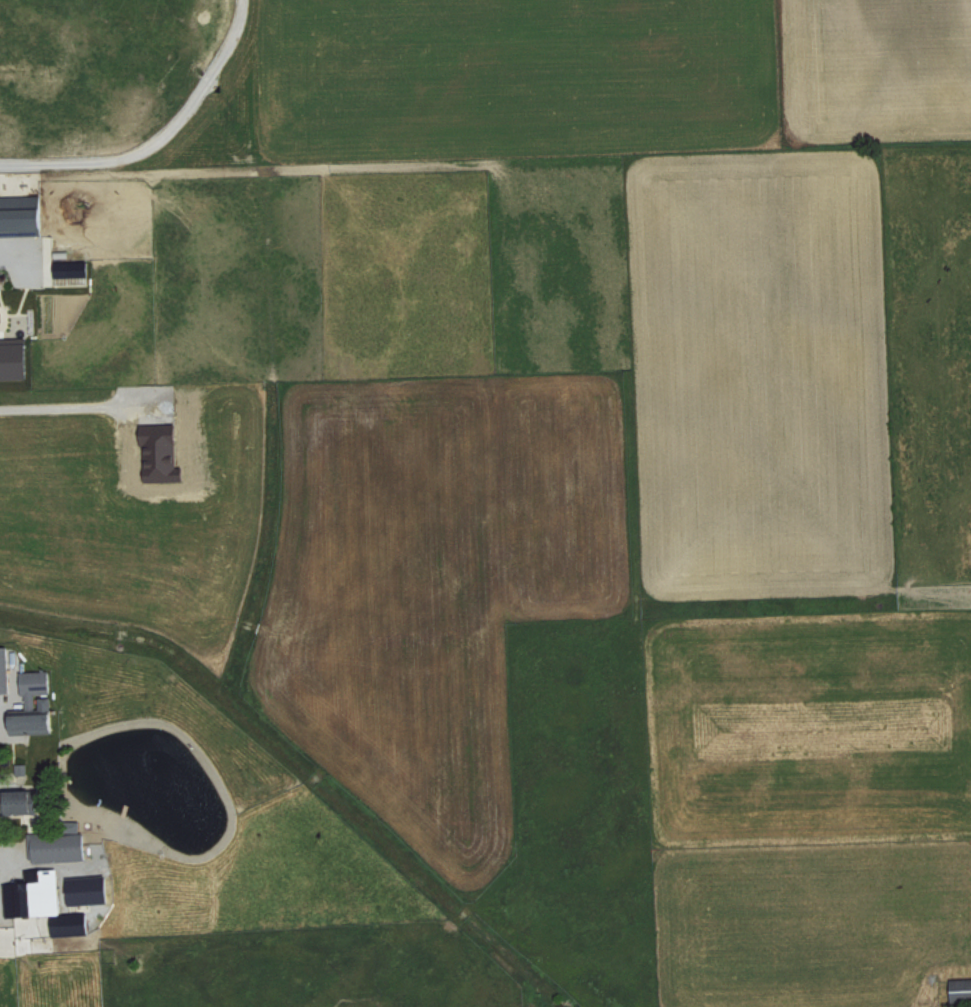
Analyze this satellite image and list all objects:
road: (158, 138)
building: (24, 217)
building: (73, 268)
building: (1, 299)
building: (15, 359)
building: (5, 670)
building: (36, 704)
building: (21, 768)
building: (19, 801)
building: (60, 845)
building: (86, 890)
building: (35, 894)
building: (72, 929)
building: (962, 989)

